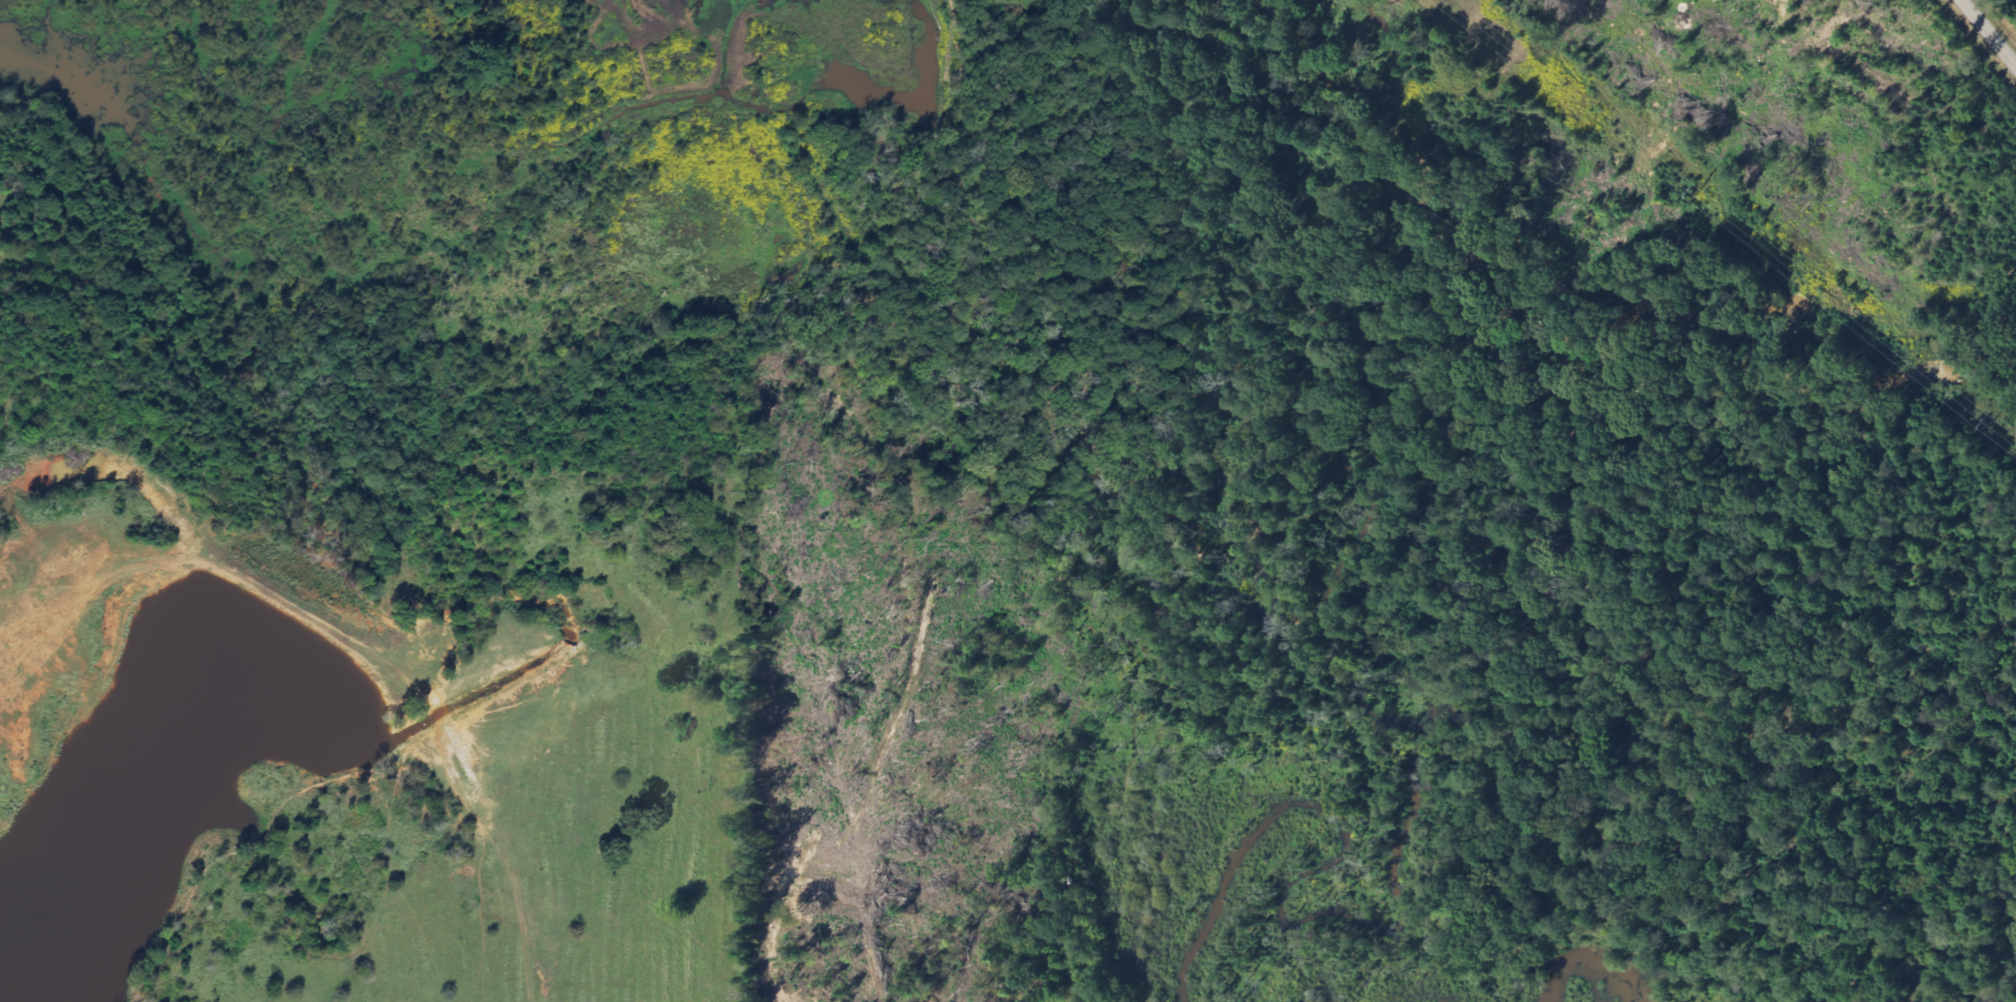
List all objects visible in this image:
road: (1987, 34)
road: (962, 56)
power tower: (1695, 193)
power tower: (1983, 421)

